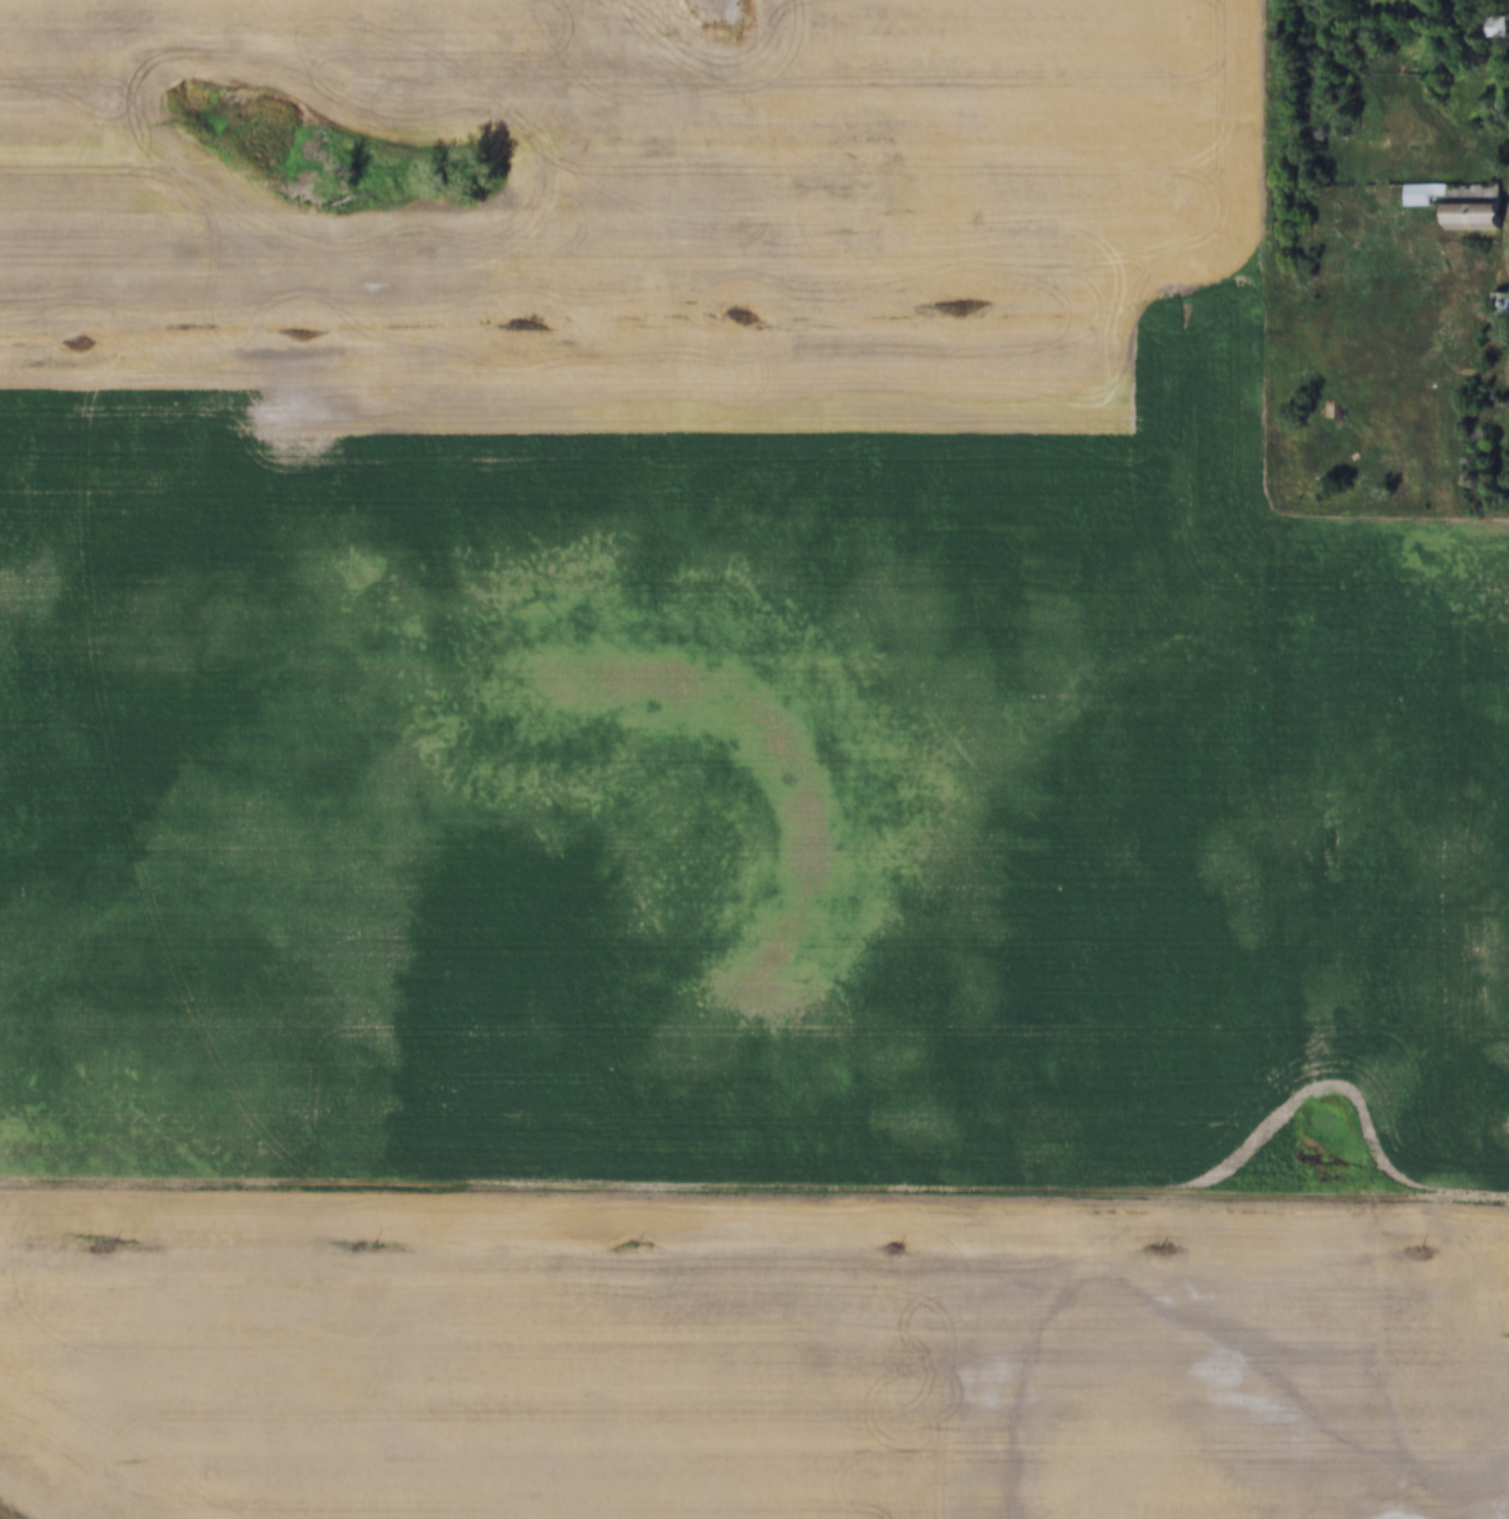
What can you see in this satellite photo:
building: (1495, 25)
building: (1458, 204)
building: (1505, 301)
road: (754, 1189)

